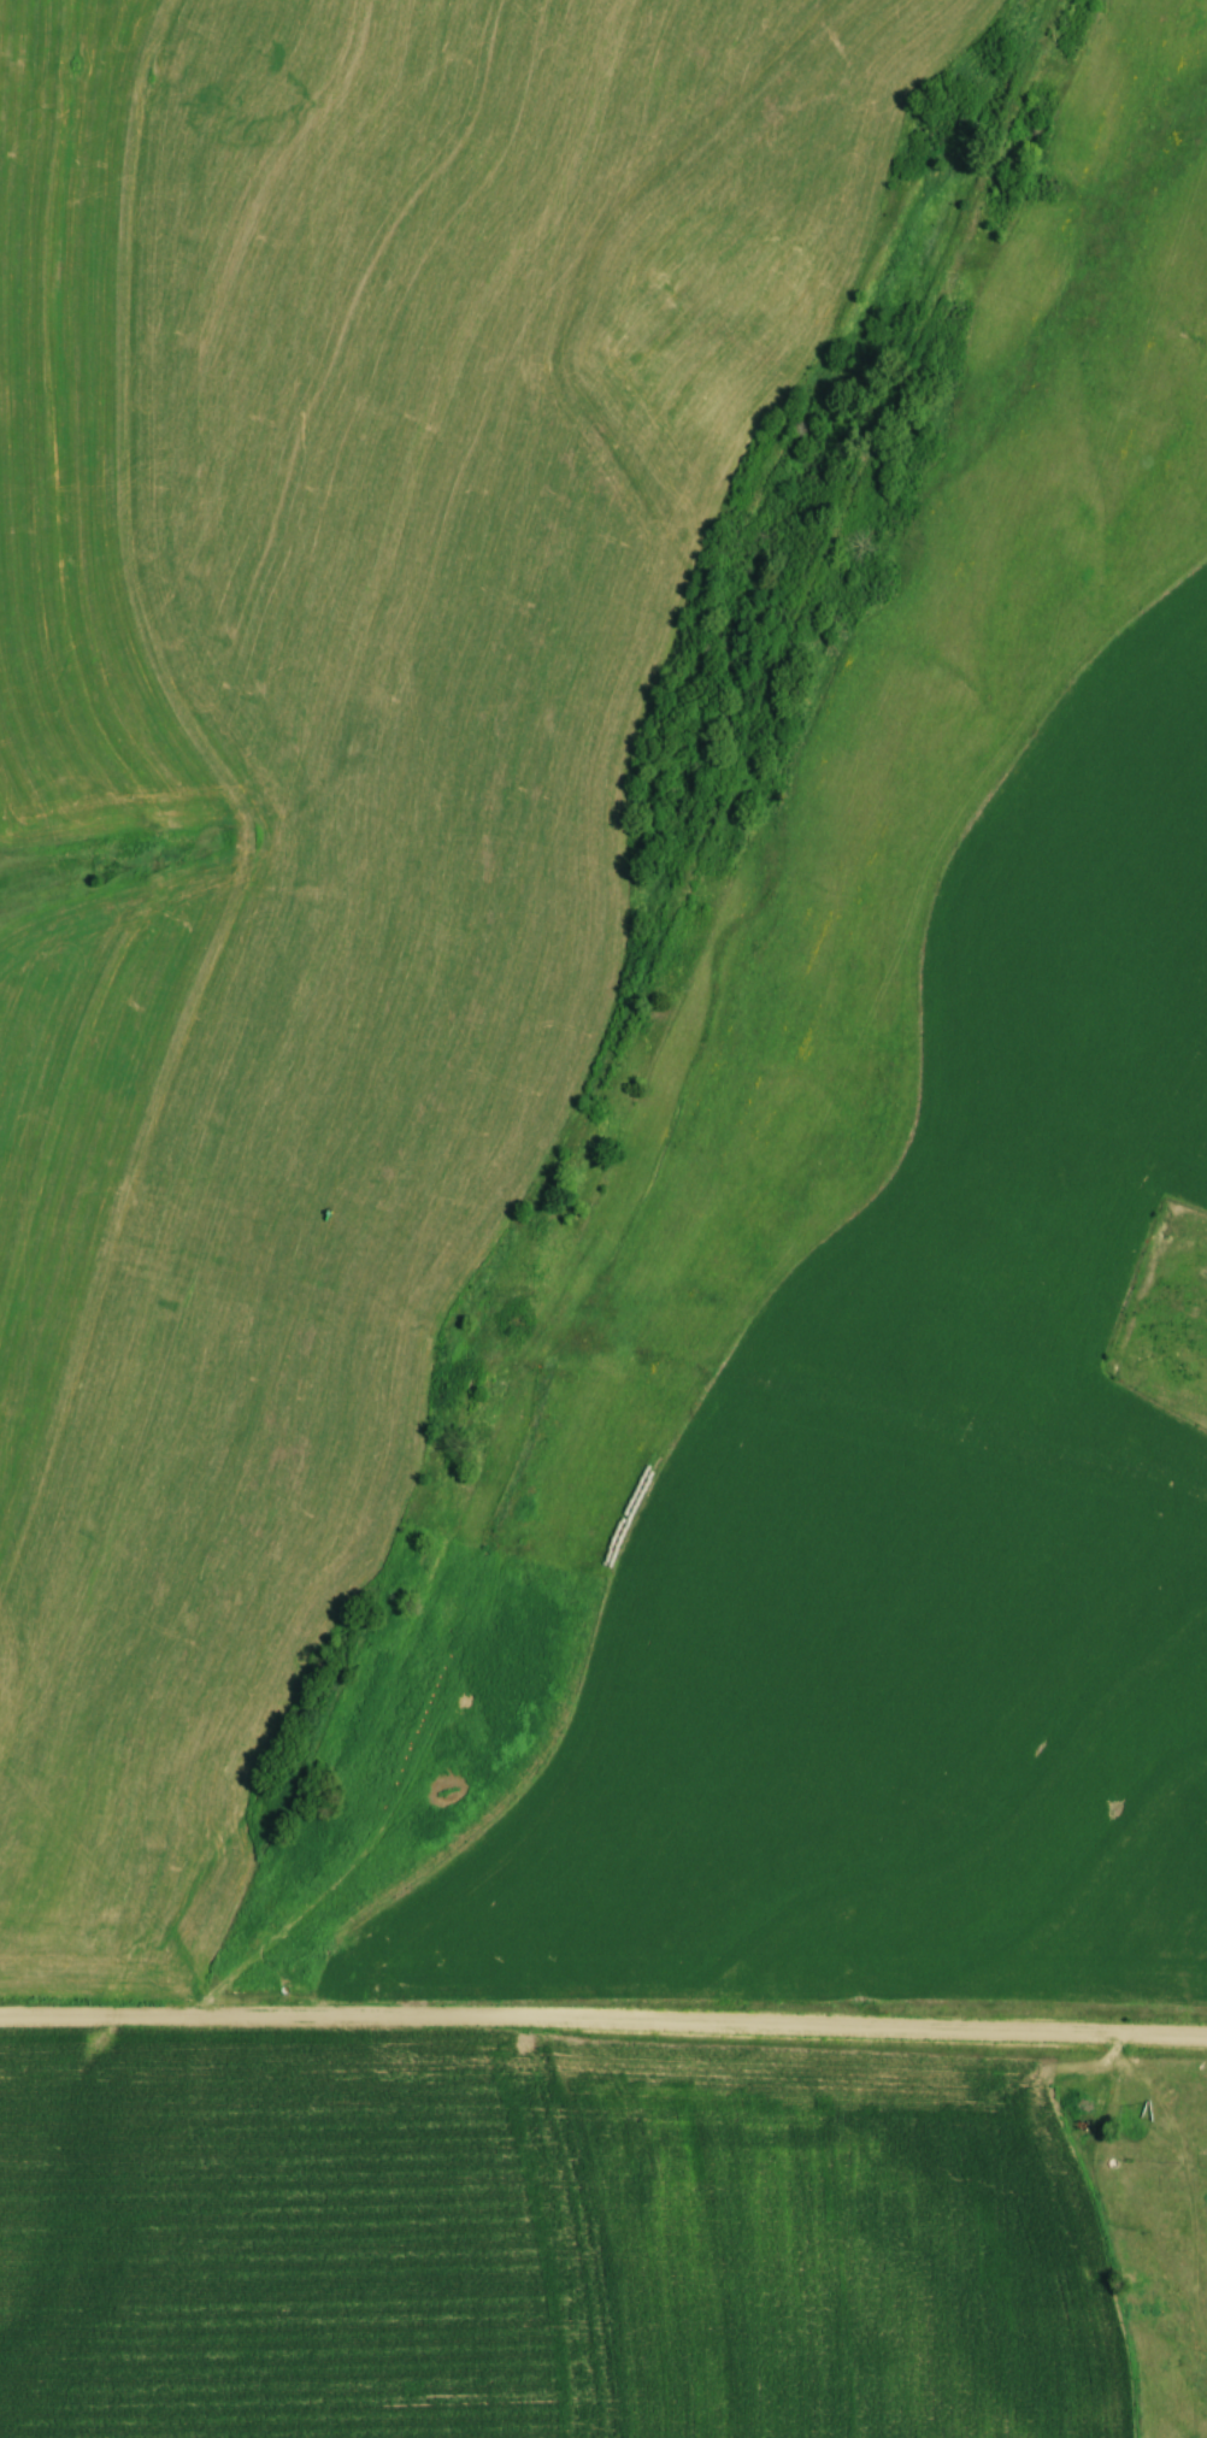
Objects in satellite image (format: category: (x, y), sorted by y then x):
road: (603, 2021)

